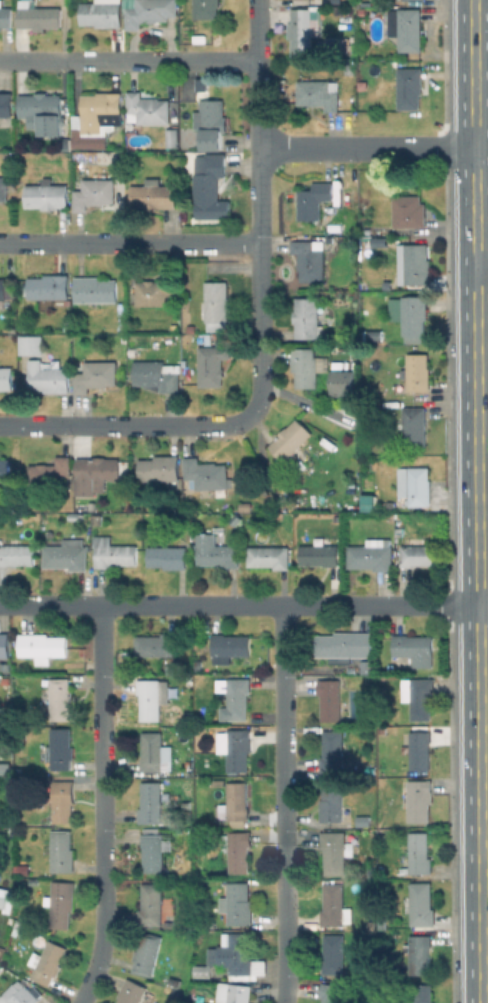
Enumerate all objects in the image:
building: (335, 0)
building: (207, 8)
building: (150, 11)
building: (101, 12)
building: (361, 12)
building: (4, 15)
building: (37, 15)
building: (405, 28)
building: (302, 31)
building: (199, 37)
road: (129, 60)
building: (409, 87)
building: (317, 93)
building: (41, 108)
building: (6, 109)
building: (147, 109)
building: (95, 119)
building: (212, 119)
building: (173, 138)
road: (367, 146)
building: (3, 188)
building: (211, 189)
building: (93, 192)
building: (46, 194)
building: (153, 194)
building: (313, 199)
road: (258, 211)
building: (409, 212)
building: (335, 228)
road: (129, 241)
building: (380, 243)
building: (309, 257)
building: (418, 264)
road: (482, 271)
building: (2, 288)
building: (49, 288)
building: (94, 289)
building: (159, 291)
building: (216, 304)
building: (414, 314)
building: (307, 318)
building: (174, 326)
building: (190, 327)
building: (375, 336)
building: (31, 344)
building: (211, 364)
building: (305, 367)
building: (416, 371)
building: (94, 374)
building: (156, 374)
building: (49, 377)
building: (7, 378)
building: (345, 381)
road: (123, 424)
building: (413, 426)
building: (290, 440)
building: (159, 468)
building: (4, 470)
building: (50, 473)
building: (95, 473)
building: (206, 473)
building: (417, 486)
building: (367, 501)
road: (477, 501)
building: (390, 505)
building: (242, 506)
building: (92, 507)
building: (74, 517)
road: (483, 517)
building: (96, 519)
building: (235, 521)
building: (400, 531)
building: (113, 552)
building: (218, 552)
building: (66, 554)
building: (319, 554)
building: (16, 555)
building: (167, 556)
building: (269, 556)
building: (370, 556)
building: (420, 556)
road: (239, 605)
road: (483, 613)
building: (158, 643)
building: (4, 644)
building: (231, 644)
building: (41, 645)
building: (346, 646)
building: (415, 647)
building: (4, 679)
building: (200, 686)
building: (151, 696)
building: (418, 696)
building: (58, 698)
building: (330, 698)
building: (236, 699)
building: (357, 704)
building: (188, 720)
road: (484, 734)
building: (60, 747)
building: (235, 747)
building: (417, 749)
building: (332, 751)
building: (156, 754)
building: (5, 766)
building: (235, 799)
building: (62, 800)
building: (150, 801)
building: (421, 801)
road: (285, 804)
building: (334, 804)
road: (100, 806)
building: (365, 817)
building: (62, 850)
building: (152, 851)
building: (236, 851)
building: (335, 851)
building: (419, 852)
road: (484, 859)
building: (21, 869)
building: (3, 897)
building: (60, 901)
building: (237, 903)
building: (150, 904)
building: (335, 904)
building: (423, 905)
building: (23, 916)
building: (382, 923)
building: (392, 934)
building: (147, 953)
building: (419, 953)
building: (334, 954)
building: (240, 957)
building: (50, 961)
building: (201, 971)
building: (168, 989)
building: (131, 991)
building: (232, 993)
building: (332, 993)
building: (421, 993)
building: (23, 996)
building: (195, 1002)

